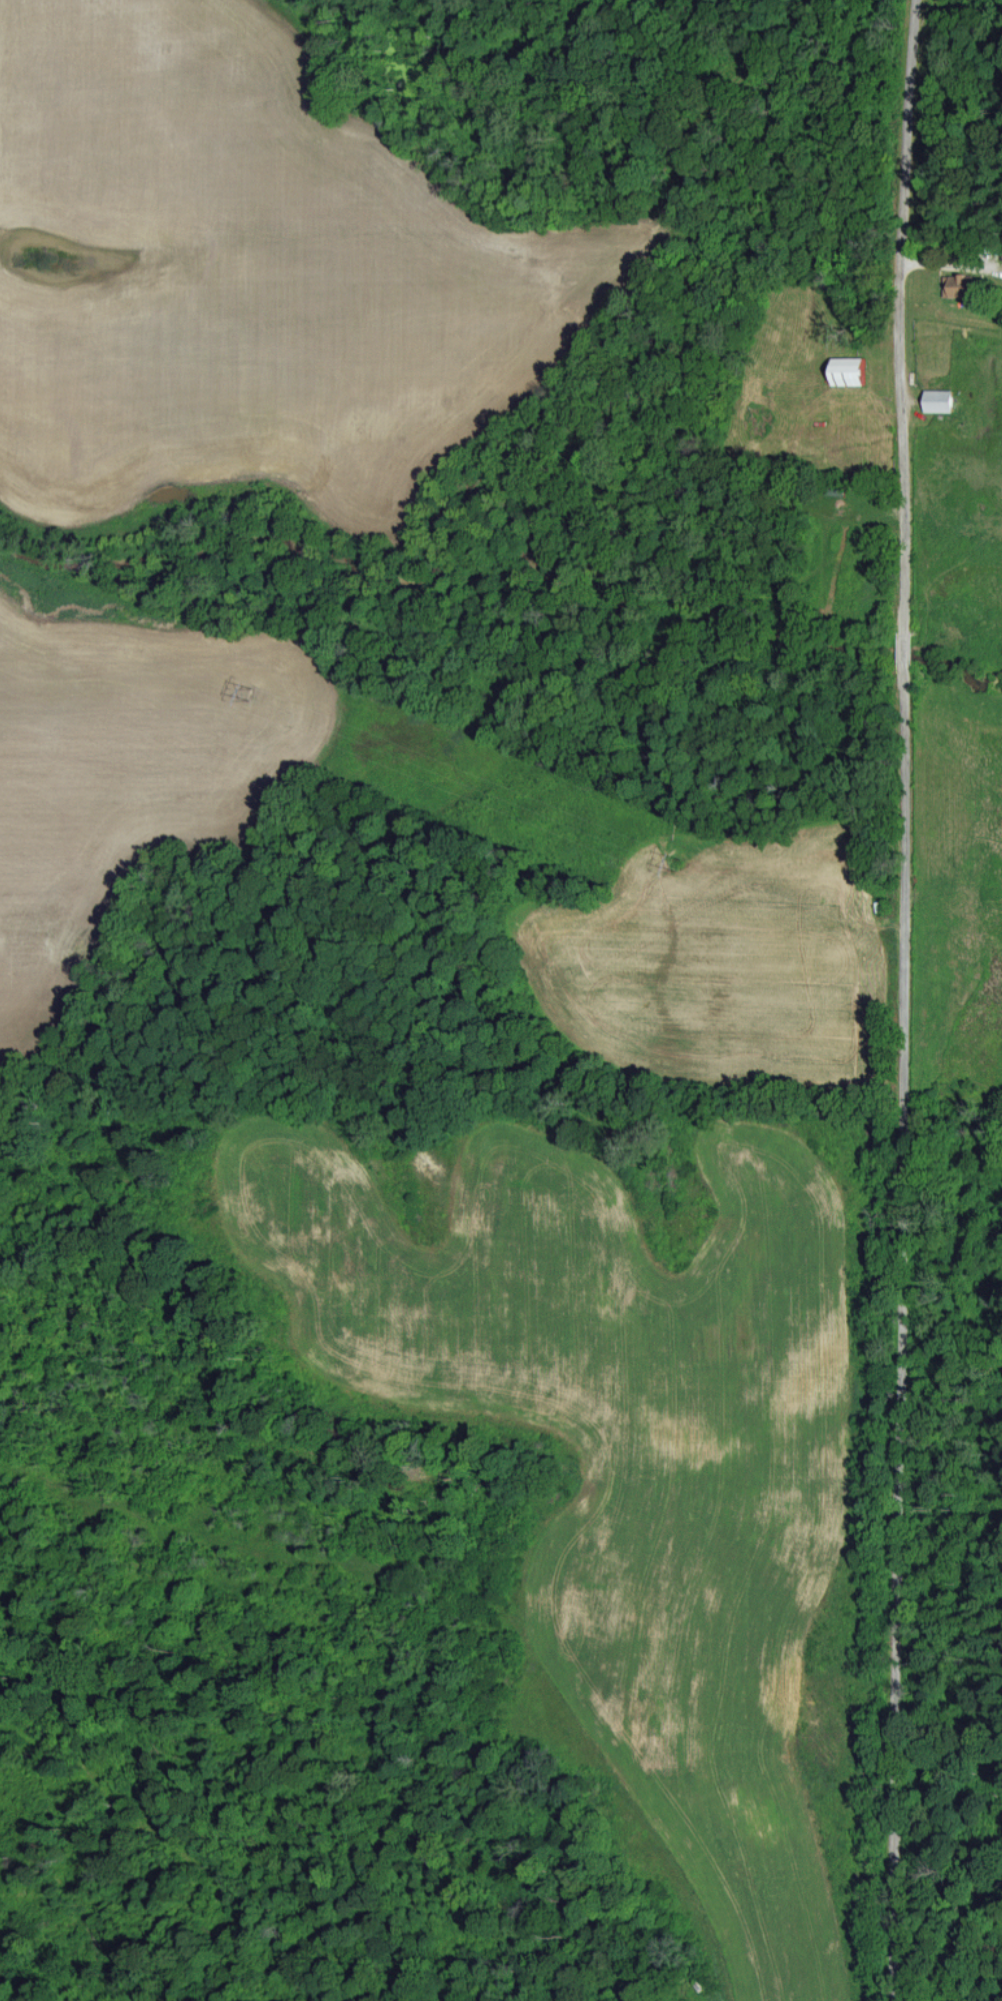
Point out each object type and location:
power tower: (253, 694)
power tower: (678, 863)
road: (899, 1000)

